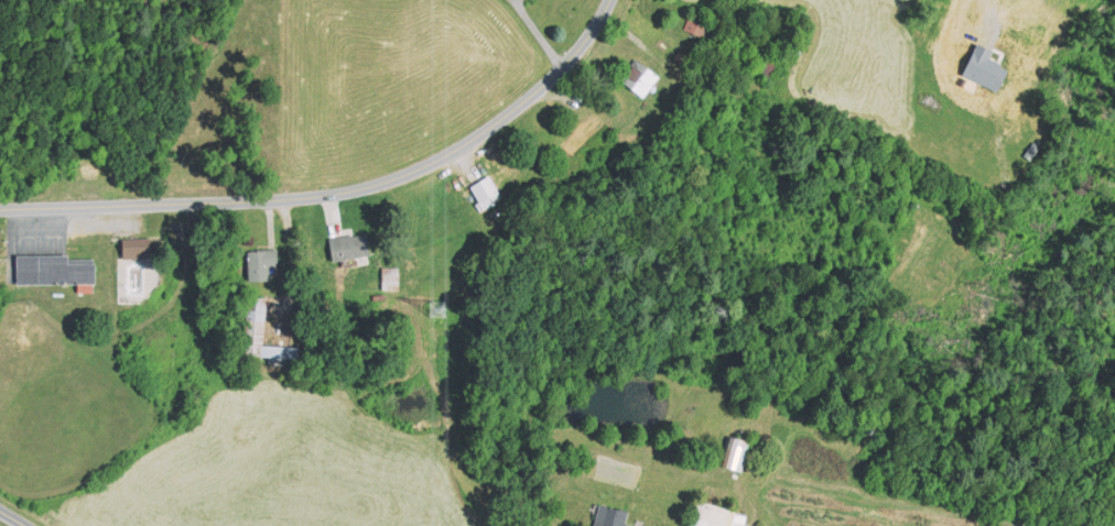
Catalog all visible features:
building: (701, 24)
road: (535, 33)
building: (676, 56)
building: (983, 67)
building: (768, 73)
building: (638, 77)
building: (88, 174)
road: (338, 191)
building: (485, 193)
parking lot: (104, 222)
building: (348, 245)
building: (136, 246)
building: (259, 262)
building: (53, 266)
building: (389, 276)
building: (86, 286)
power tower: (434, 310)
building: (255, 320)
park: (58, 405)
building: (736, 453)
building: (716, 515)
building: (609, 516)
road: (12, 518)

